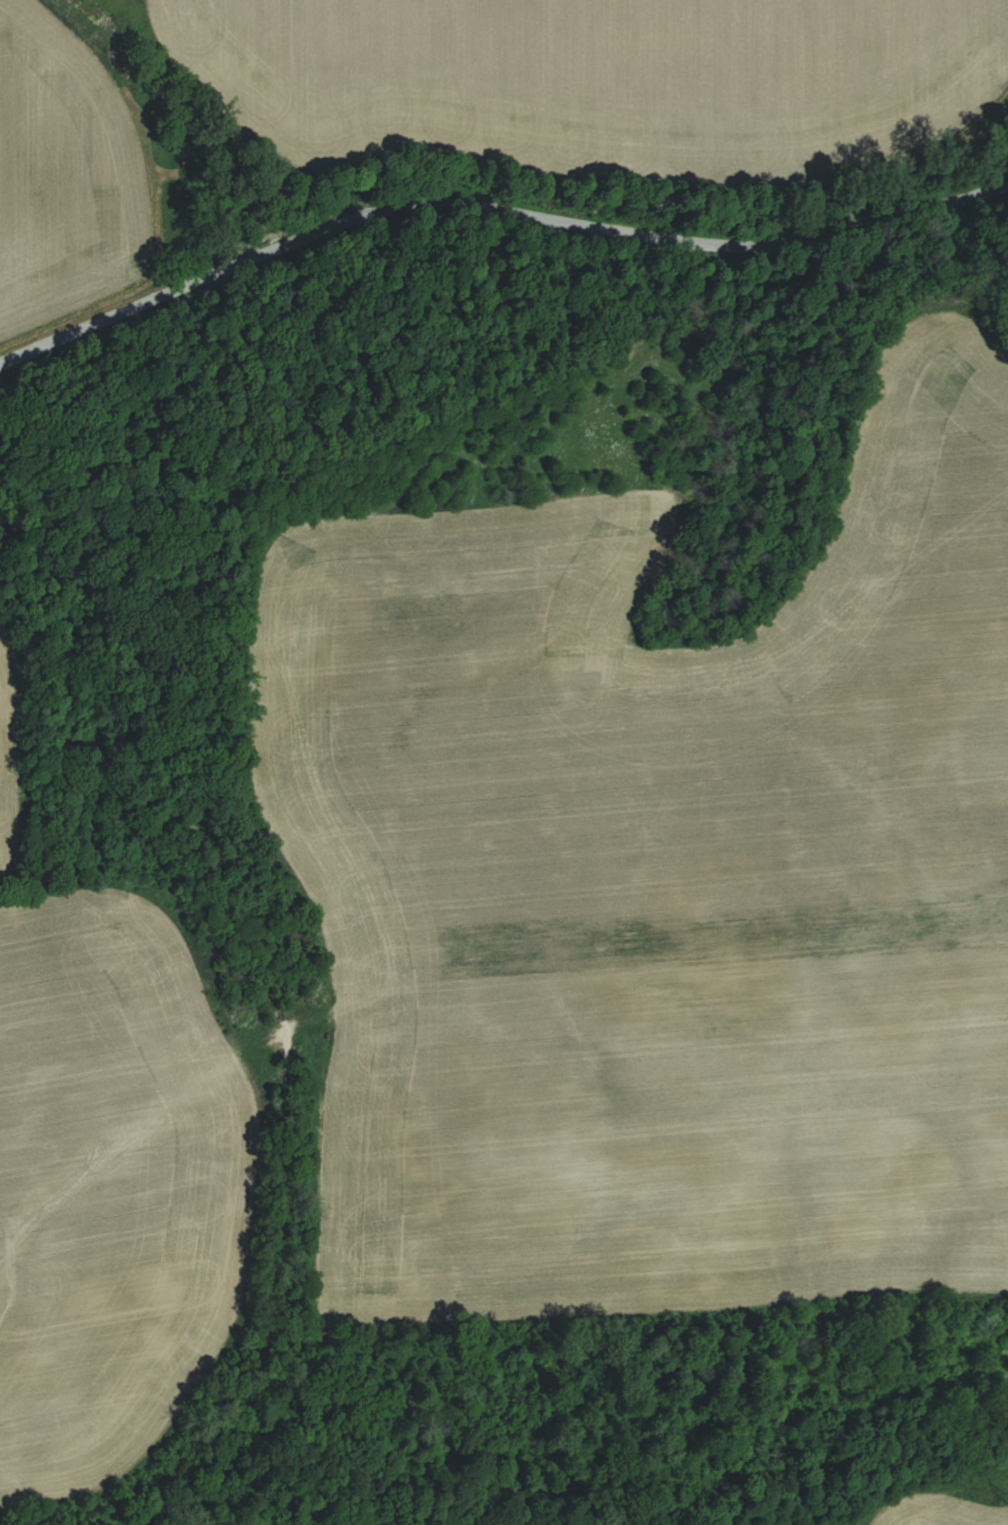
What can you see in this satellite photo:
crop: (62, 170)
road: (492, 212)

